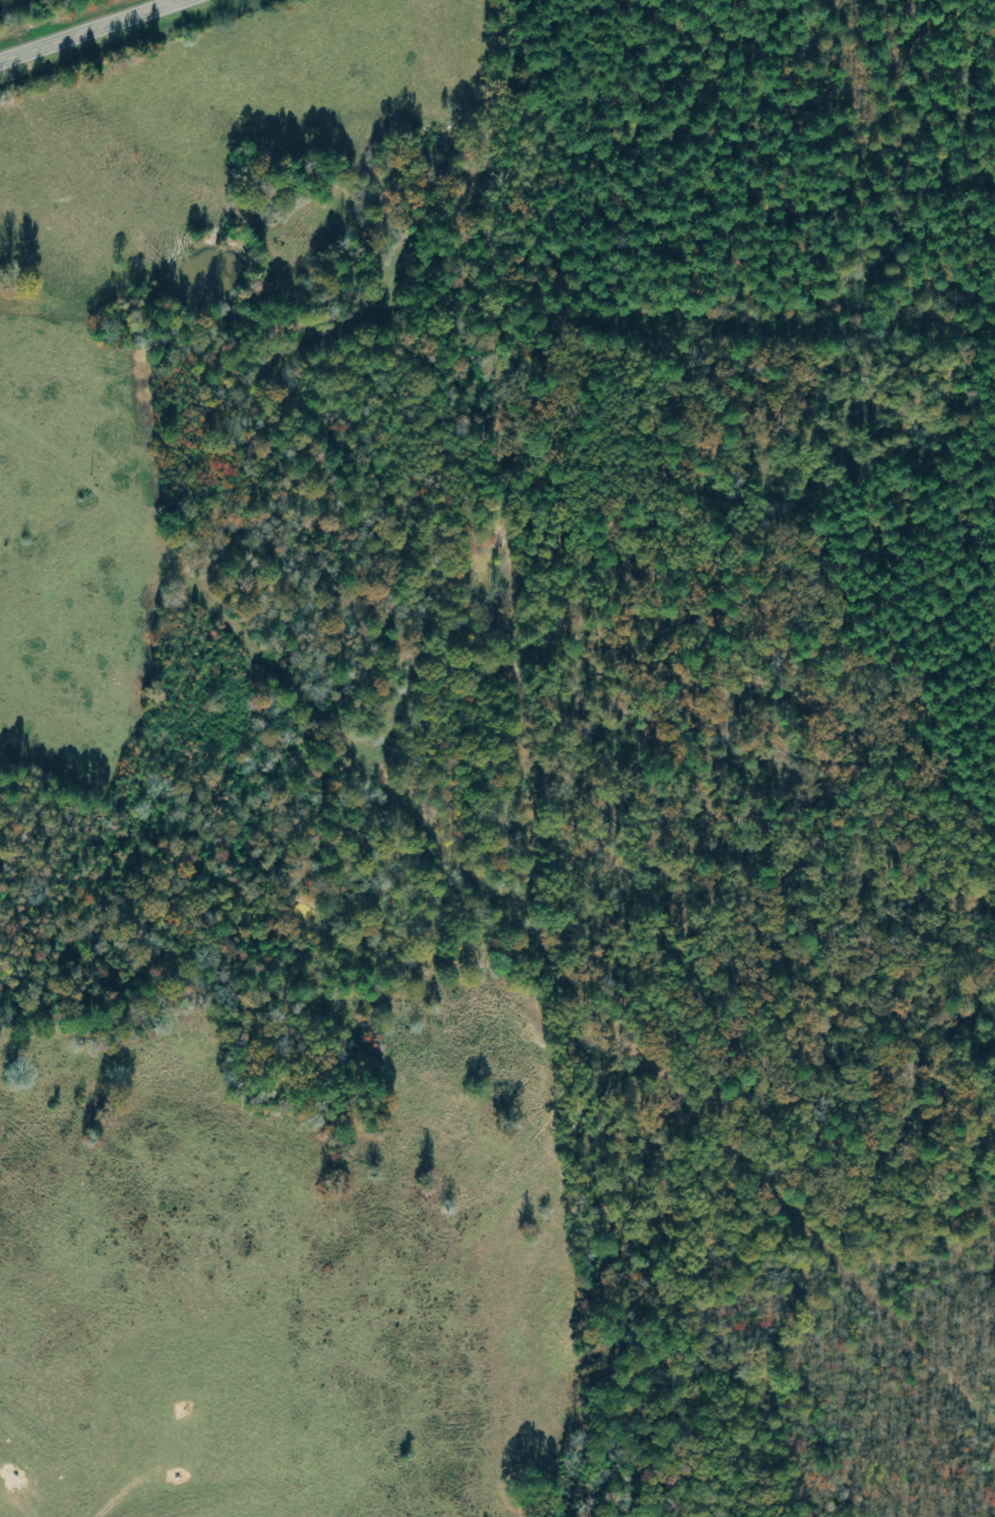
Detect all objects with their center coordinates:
road: (94, 32)

